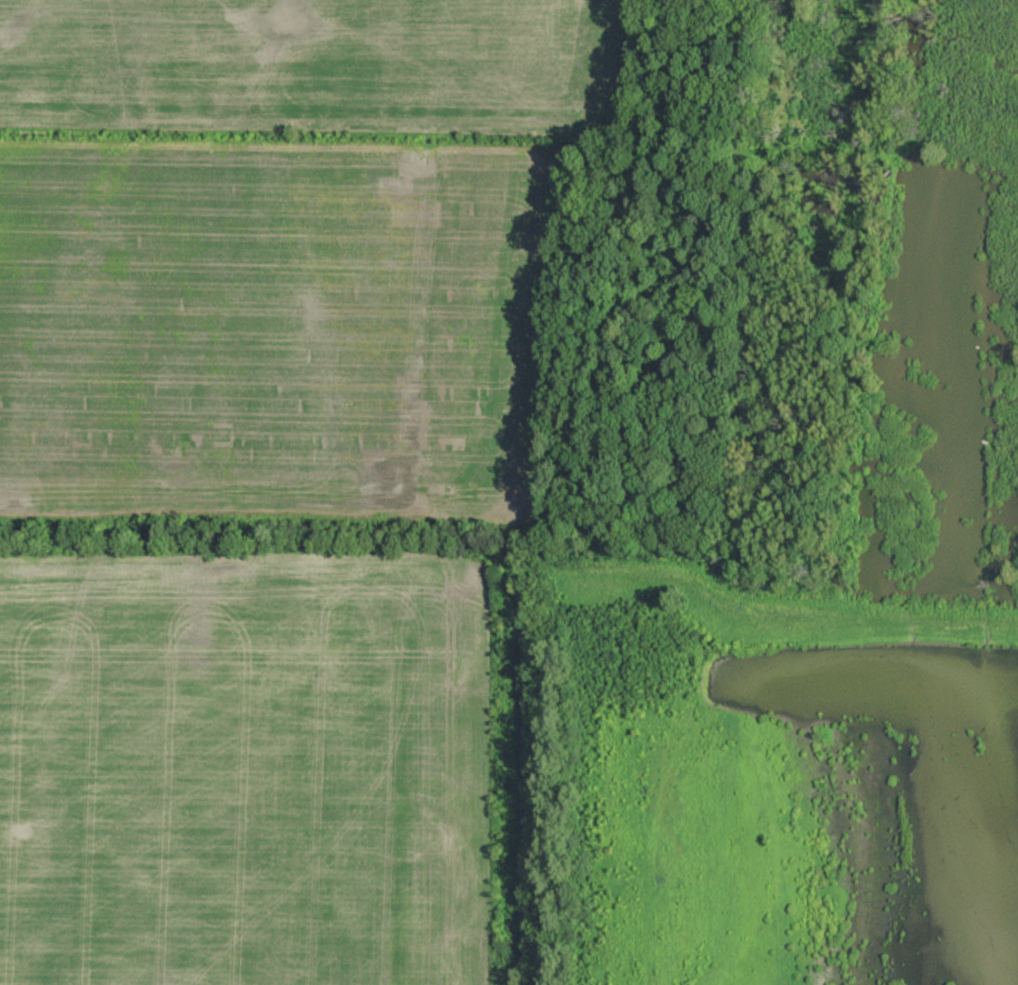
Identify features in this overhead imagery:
road: (779, 618)

